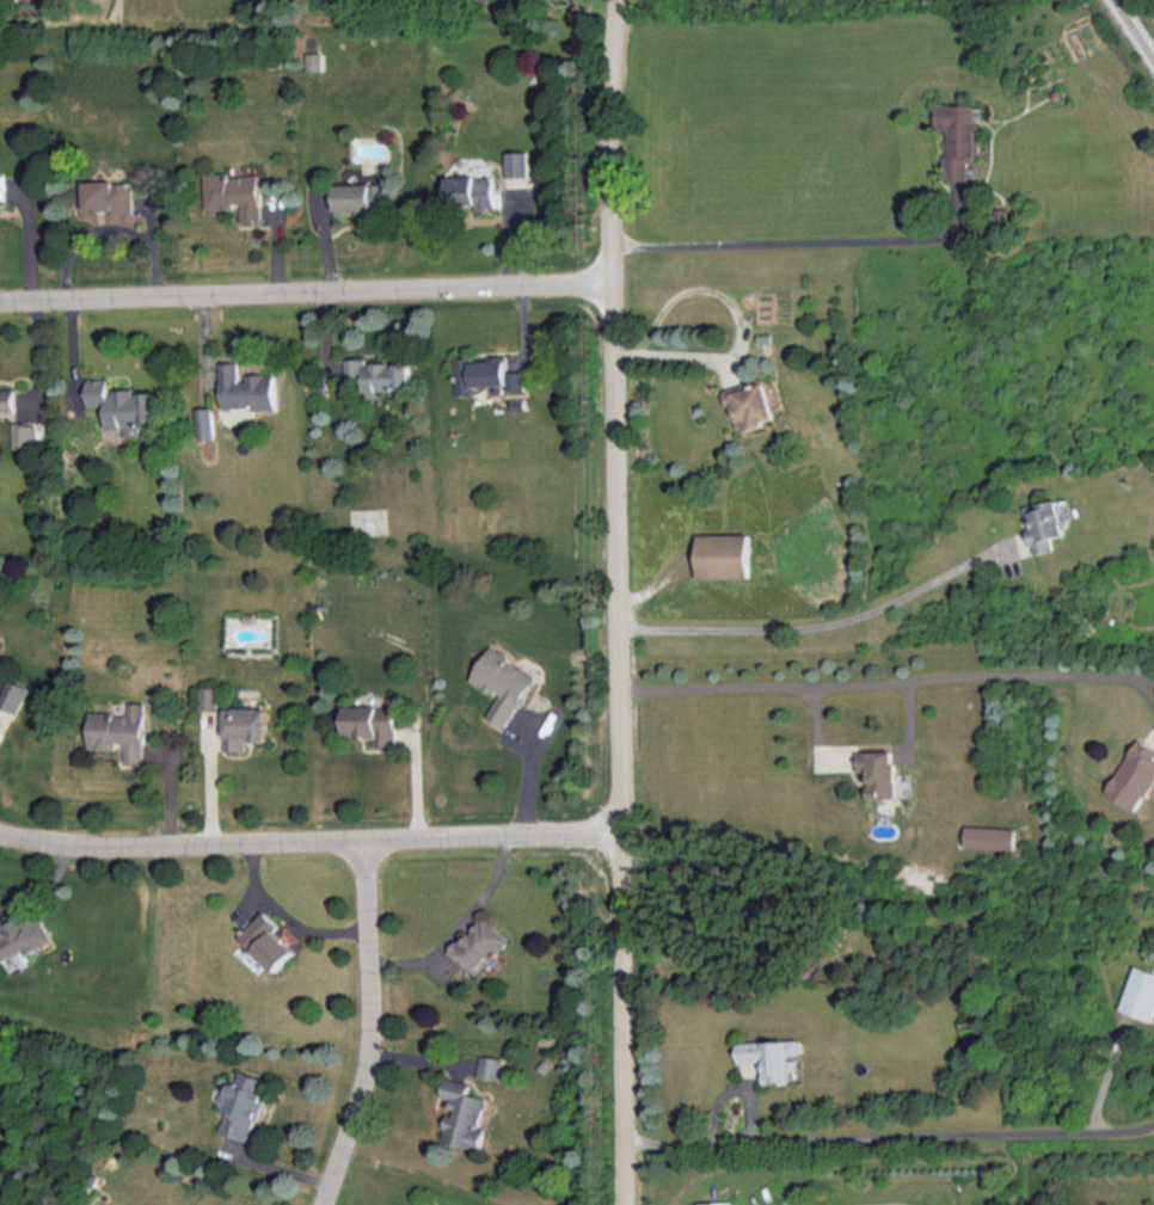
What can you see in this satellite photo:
railway: (1132, 29)
building: (314, 61)
building: (959, 137)
building: (518, 162)
building: (2, 189)
building: (473, 190)
building: (238, 193)
building: (110, 196)
building: (358, 196)
road: (112, 226)
road: (800, 240)
road: (702, 287)
road: (307, 289)
road: (681, 351)
building: (380, 374)
building: (486, 374)
building: (246, 388)
building: (7, 398)
building: (124, 405)
building: (750, 405)
building: (207, 423)
building: (25, 435)
building: (1045, 523)
building: (724, 555)
road: (619, 602)
road: (823, 627)
road: (891, 678)
building: (503, 683)
building: (12, 694)
building: (208, 697)
building: (373, 723)
building: (245, 726)
building: (118, 731)
building: (880, 771)
building: (1135, 775)
building: (990, 836)
road: (311, 842)
road: (43, 884)
road: (289, 911)
building: (23, 935)
building: (269, 941)
building: (479, 945)
building: (1137, 994)
road: (370, 1026)
building: (772, 1056)
building: (491, 1066)
building: (243, 1103)
building: (464, 1114)
road: (890, 1135)
building: (428, 1203)
building: (718, 1203)

